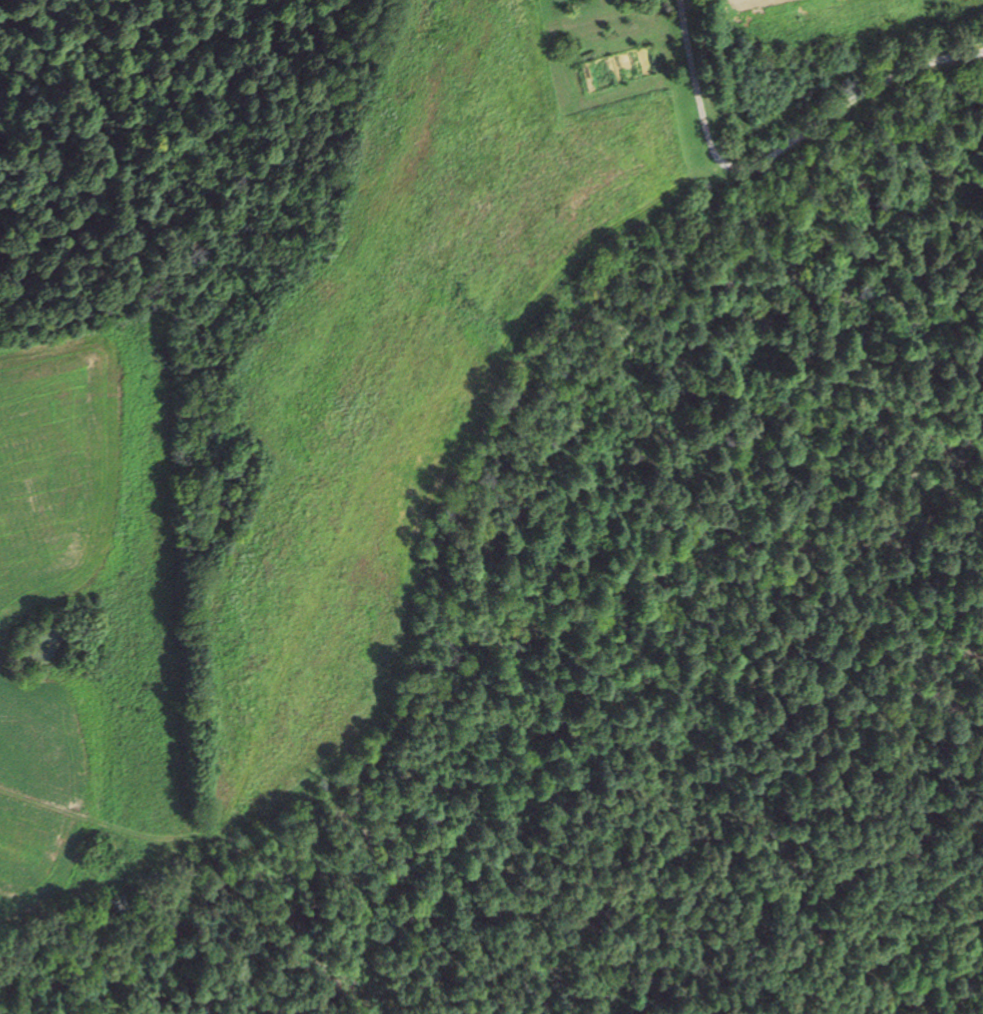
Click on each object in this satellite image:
road: (700, 100)
road: (467, 493)

